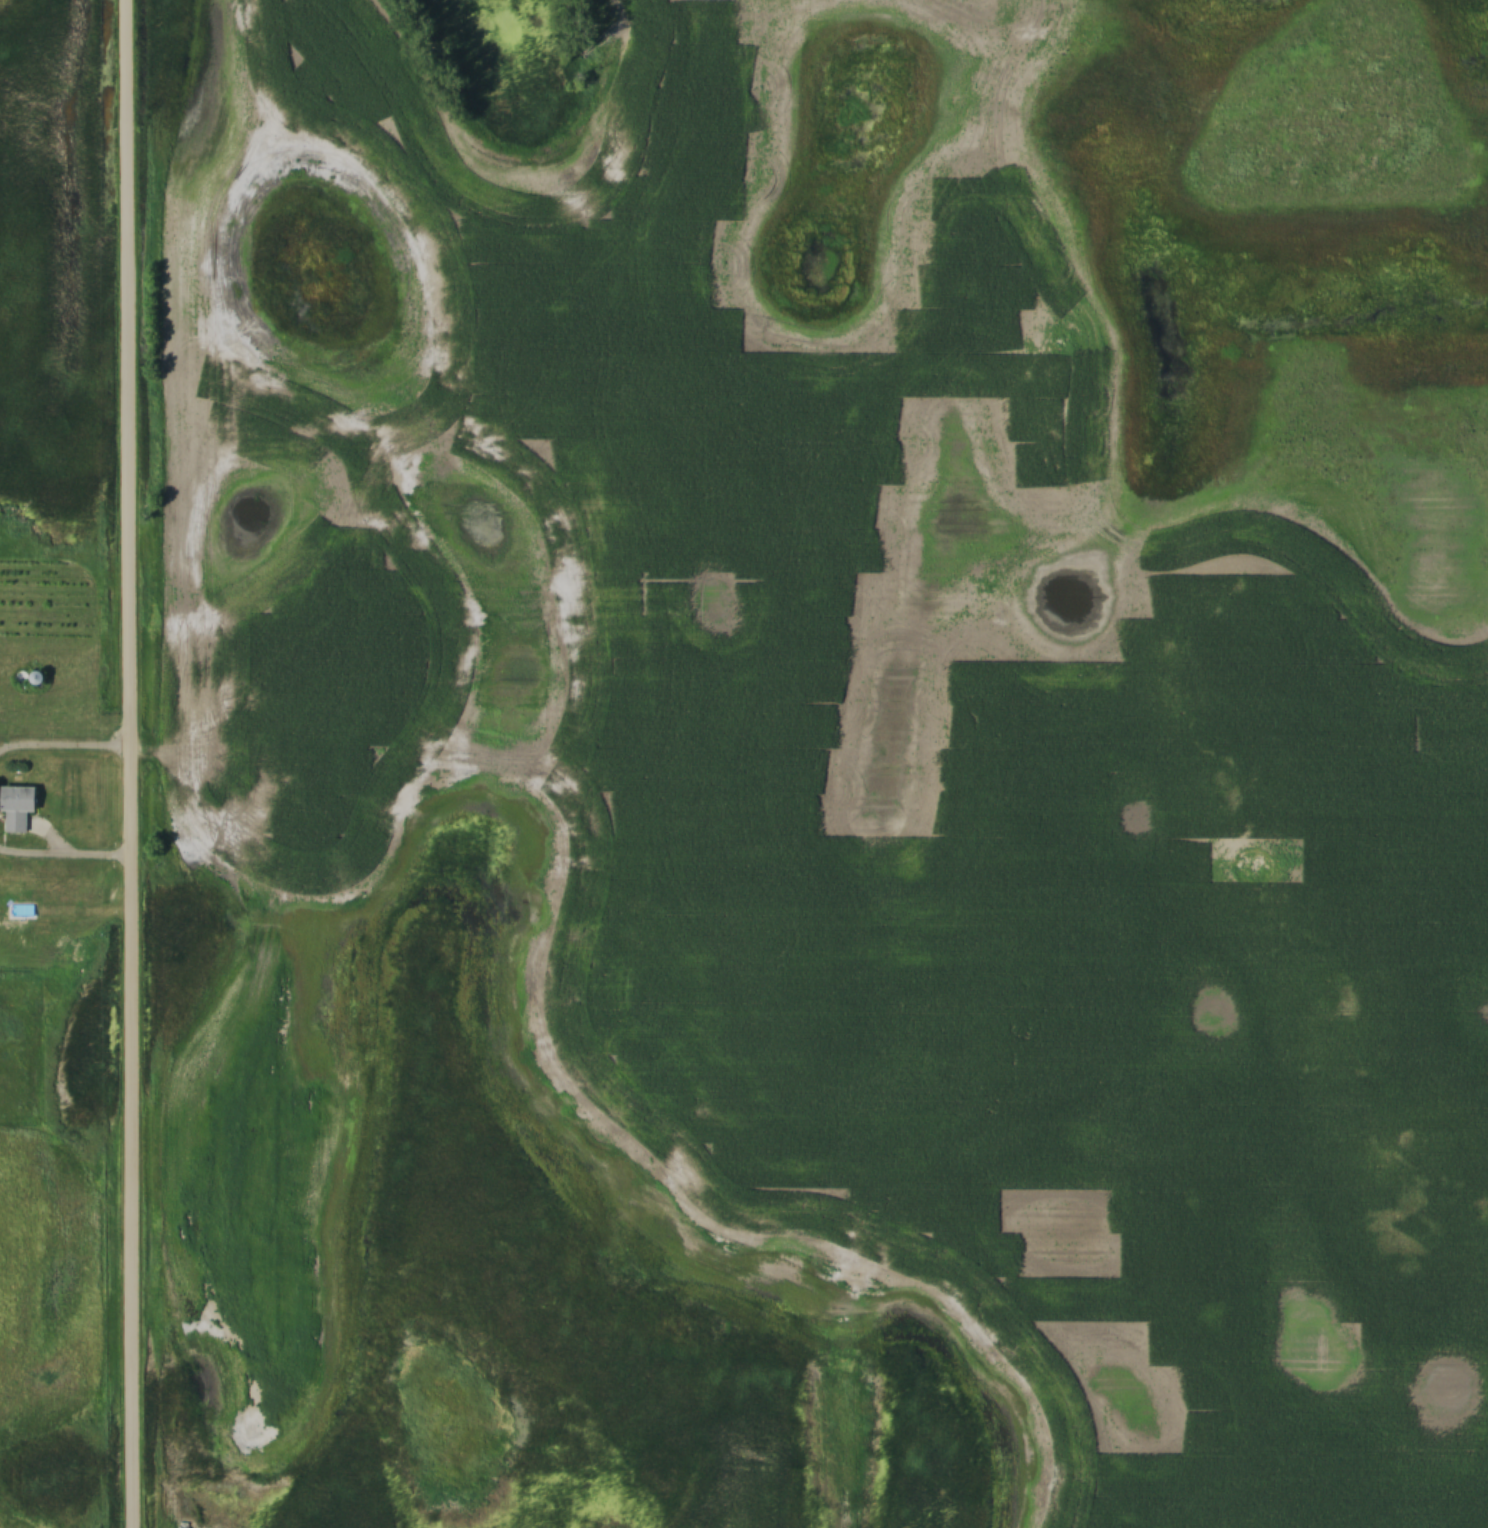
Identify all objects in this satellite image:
road: (126, 763)
building: (13, 809)
building: (22, 913)

